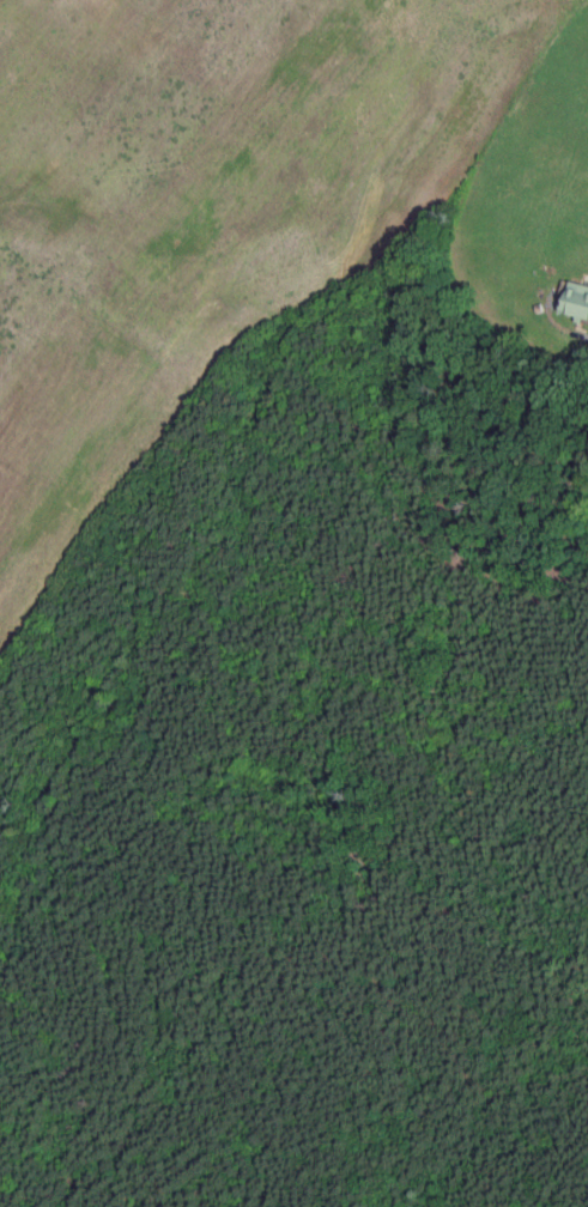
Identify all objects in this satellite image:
building: (578, 297)

